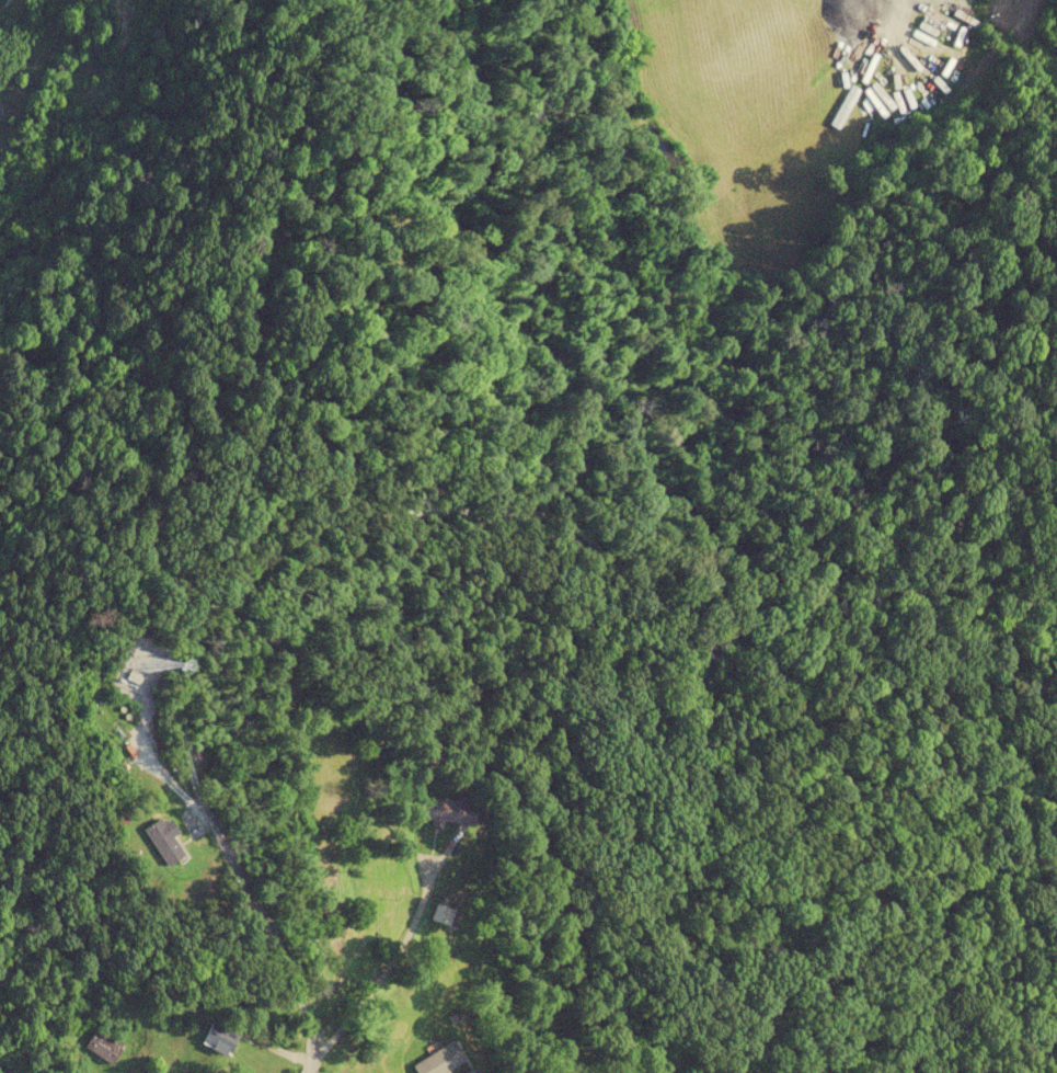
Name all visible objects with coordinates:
road: (418, 514)
building: (446, 811)
building: (166, 841)
building: (218, 1038)
building: (102, 1047)
building: (440, 1060)
road: (5, 1071)
building: (478, 1071)

